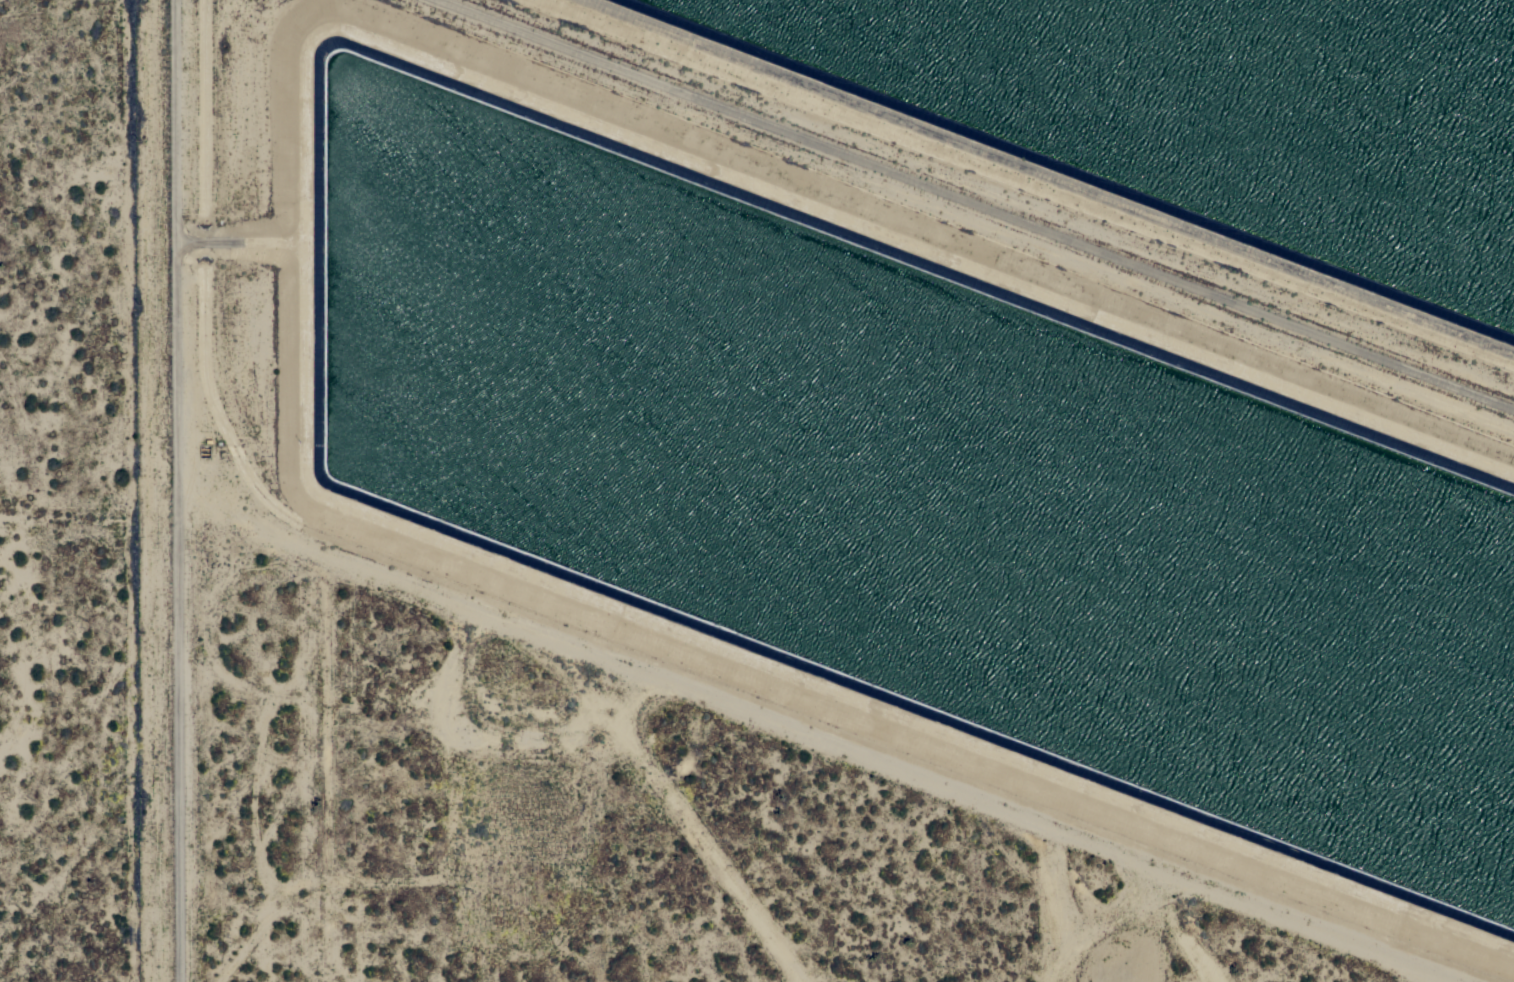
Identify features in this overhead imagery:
wastewater plant: (970, 378)
road: (184, 491)

